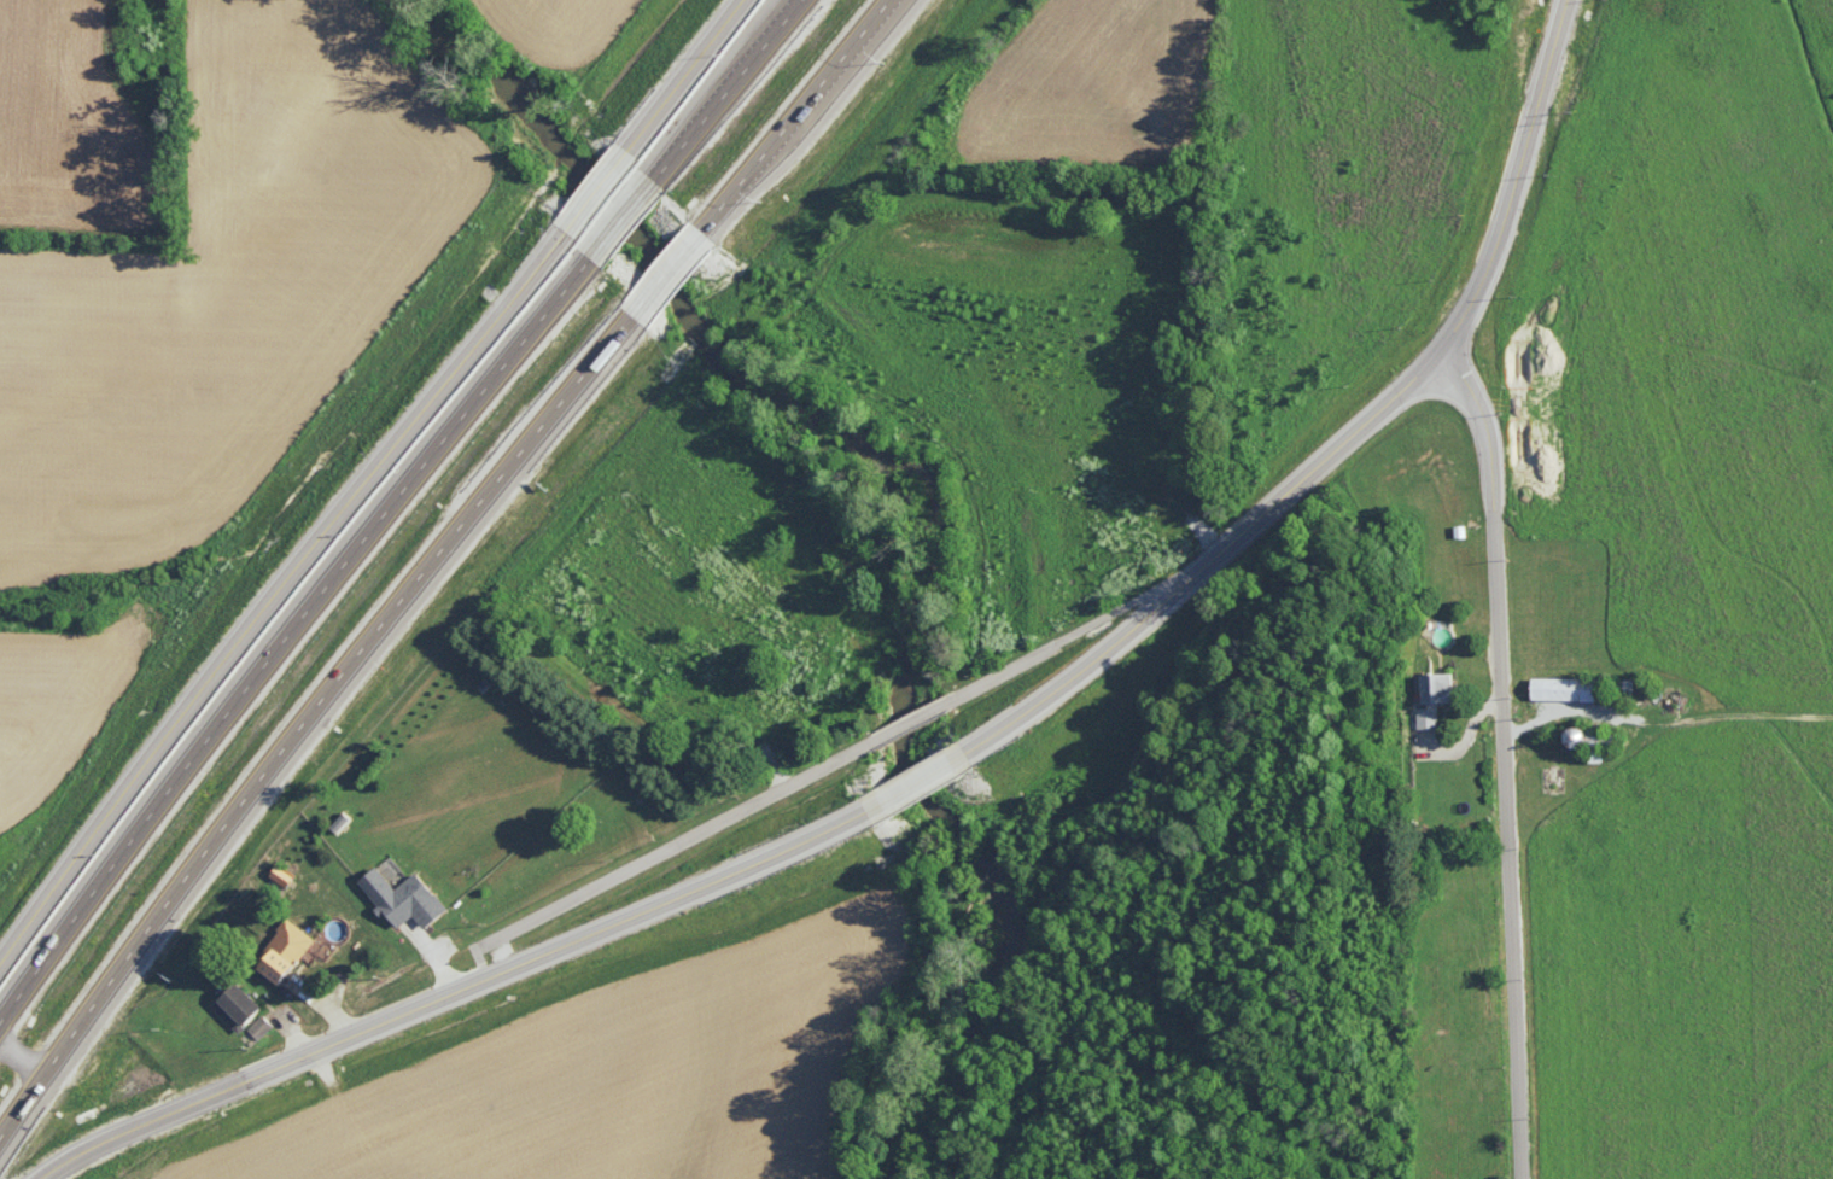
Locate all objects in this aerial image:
road: (683, 77)
road: (734, 97)
road: (800, 123)
road: (1530, 177)
road: (597, 189)
road: (629, 228)
road: (673, 281)
road: (1139, 352)
road: (1215, 545)
road: (1234, 567)
road: (279, 589)
road: (1183, 605)
road: (1125, 626)
road: (293, 643)
road: (1018, 678)
building: (1561, 687)
building: (1432, 694)
road: (927, 723)
road: (311, 725)
road: (1483, 734)
road: (1518, 757)
road: (933, 782)
road: (697, 840)
building: (280, 874)
building: (402, 895)
building: (282, 950)
road: (516, 953)
road: (450, 957)
road: (467, 993)
building: (234, 1004)
road: (339, 1005)
road: (304, 1032)
road: (28, 1055)
road: (340, 1074)

